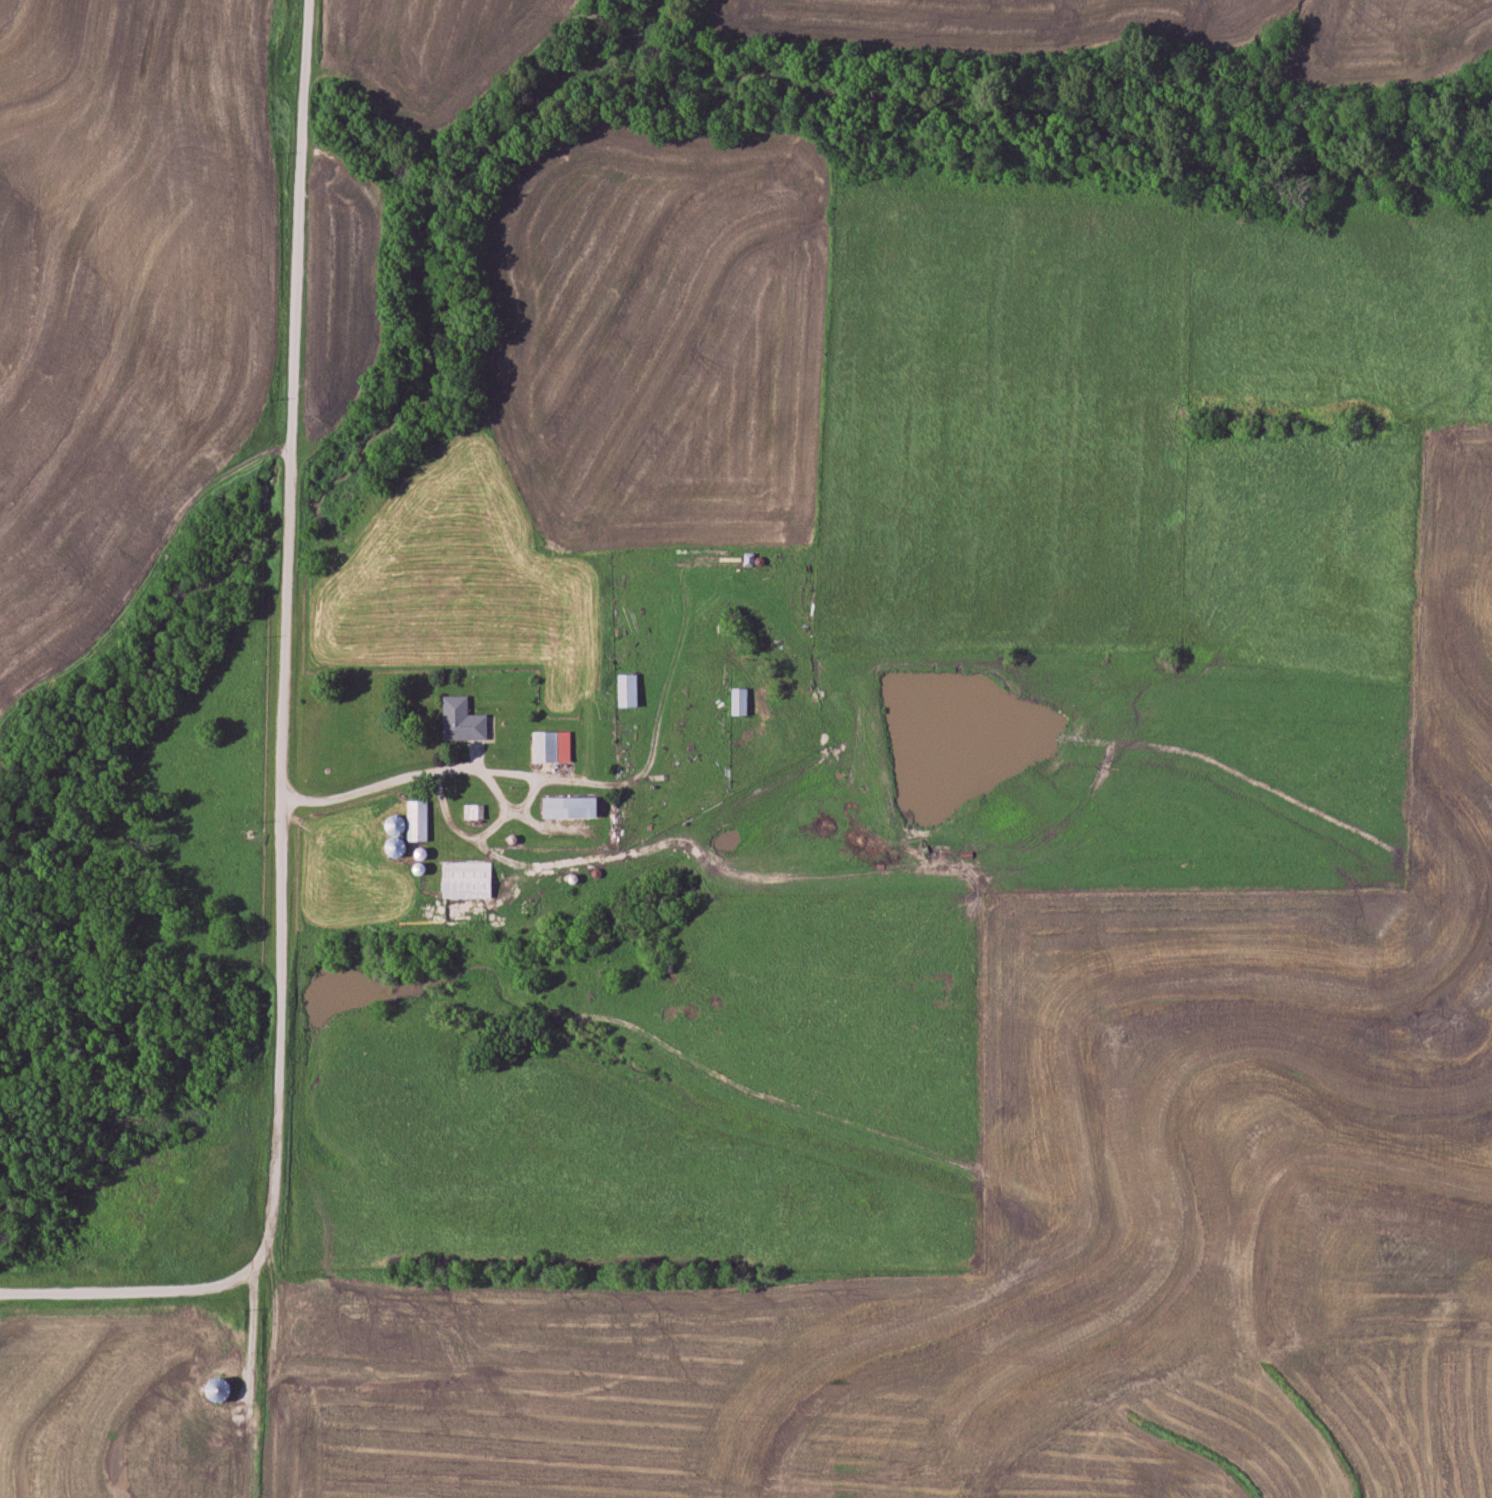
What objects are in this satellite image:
building: (629, 691)
building: (740, 703)
building: (462, 721)
building: (551, 747)
road: (279, 762)
building: (572, 808)
building: (418, 820)
building: (453, 880)
building: (221, 1390)

